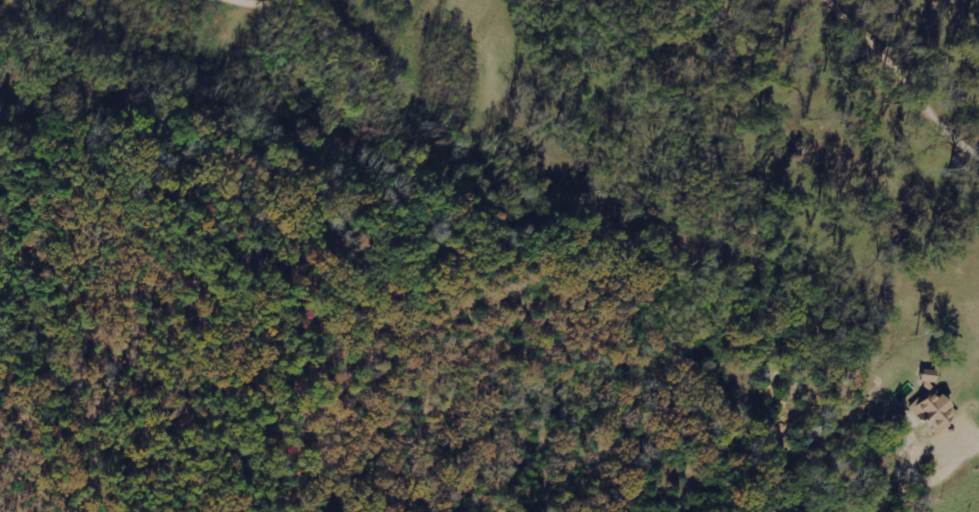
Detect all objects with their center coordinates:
building: (932, 409)
road: (969, 441)

